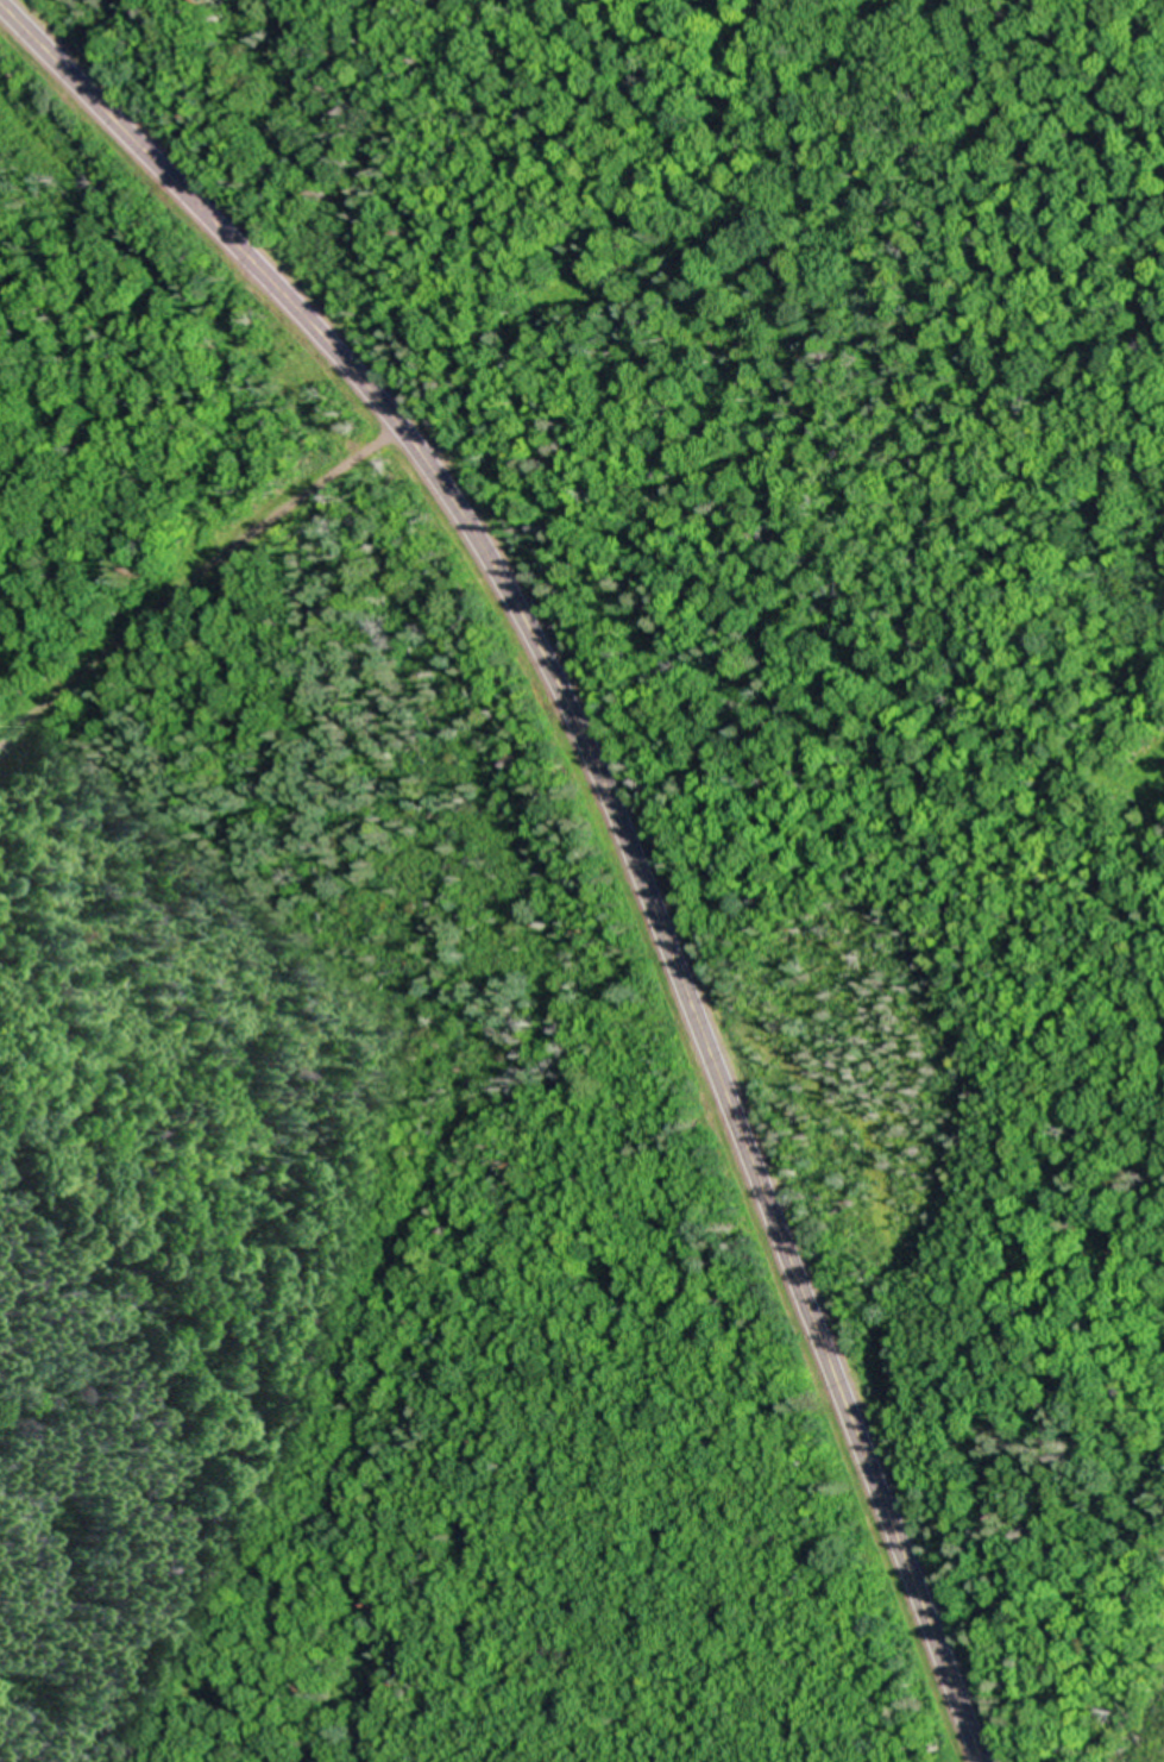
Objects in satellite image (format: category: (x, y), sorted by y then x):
road: (618, 803)

